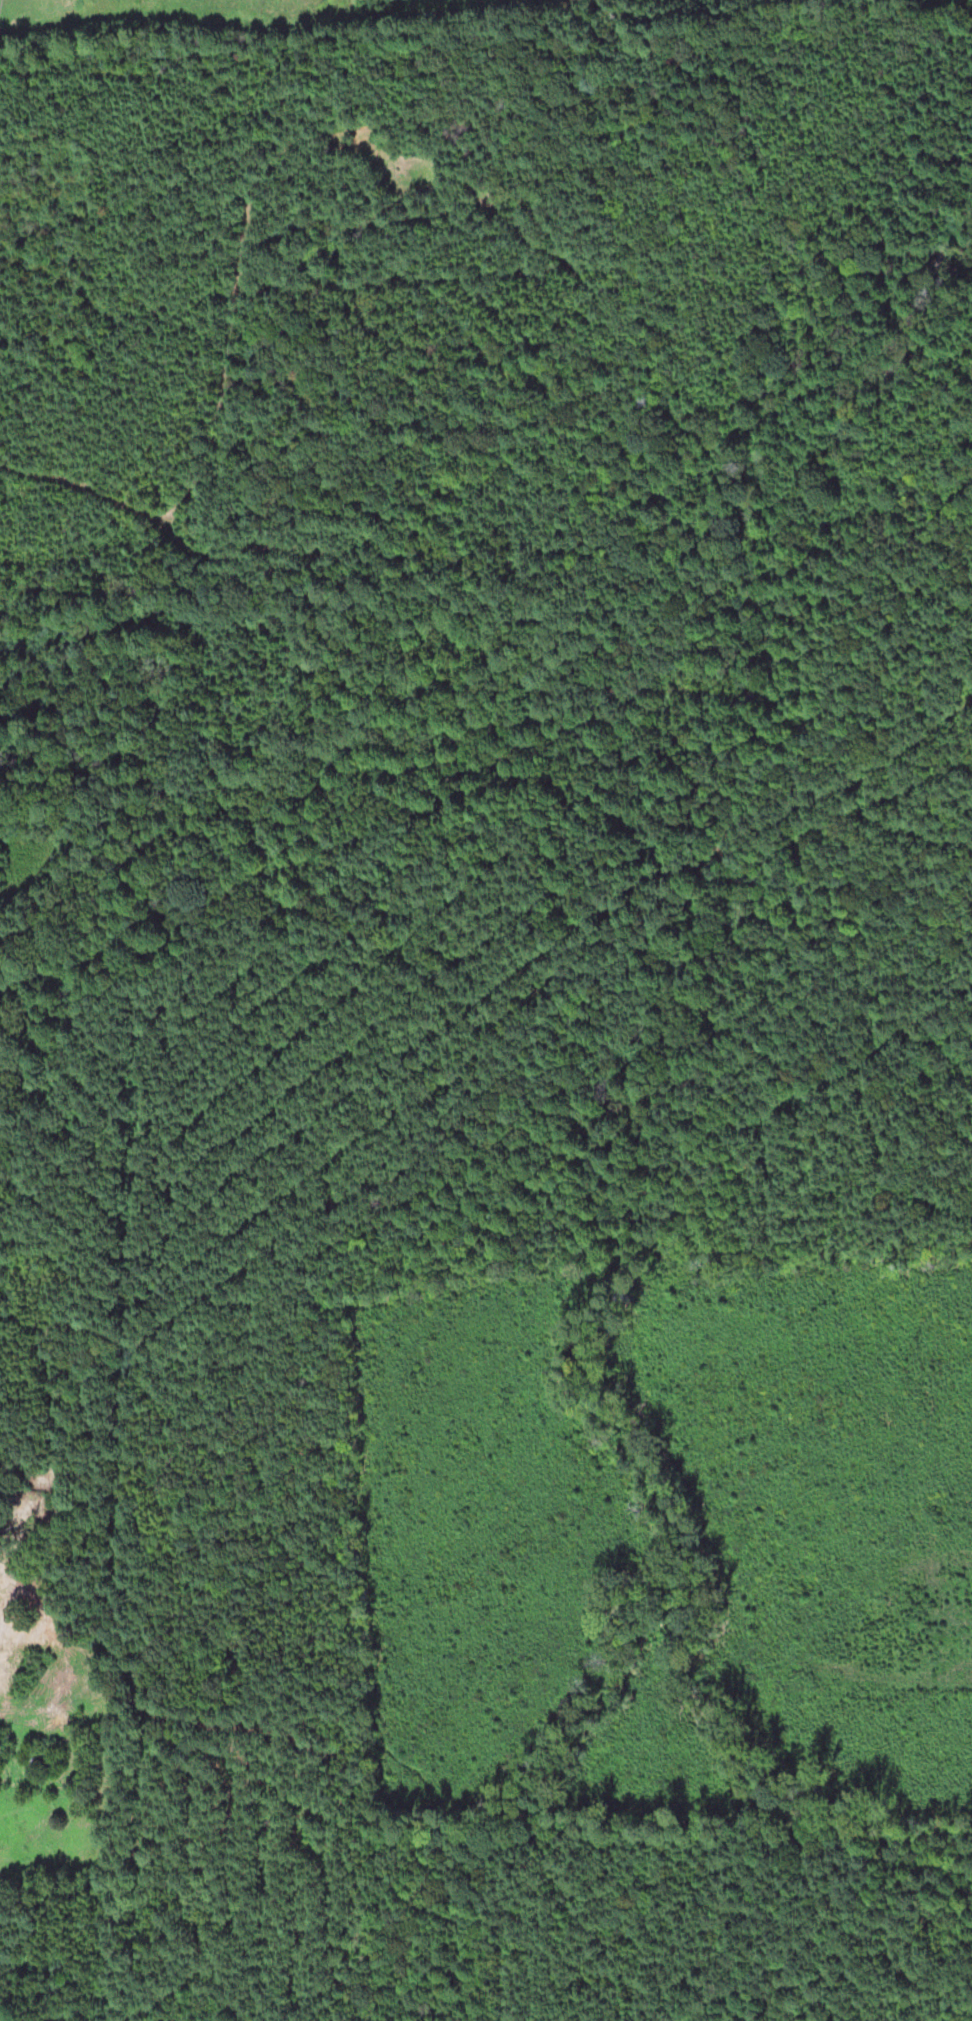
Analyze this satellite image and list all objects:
building: (40, 1759)

